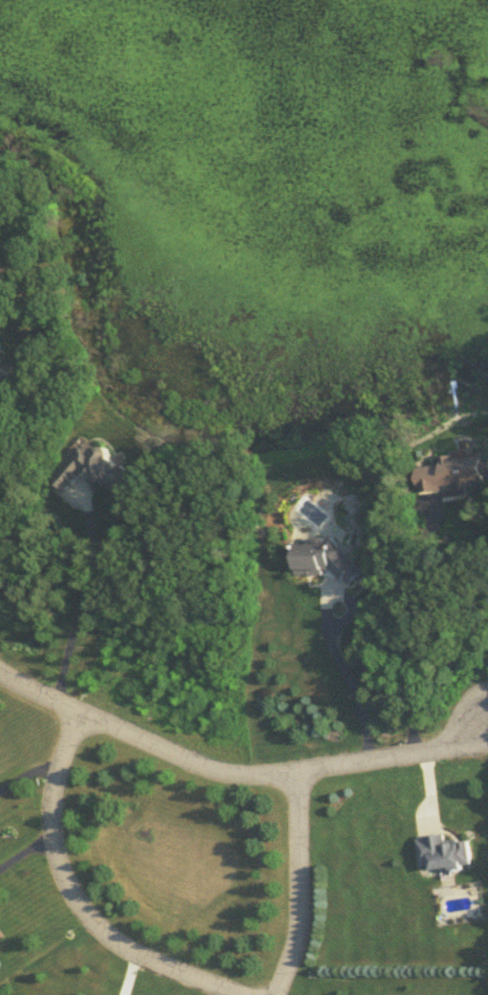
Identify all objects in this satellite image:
building: (1, 348)
building: (0, 360)
building: (4, 375)
building: (92, 467)
building: (452, 469)
building: (325, 557)
road: (81, 601)
road: (408, 630)
road: (350, 681)
road: (241, 776)
road: (25, 849)
building: (443, 849)
road: (300, 884)
road: (70, 895)
building: (0, 937)
building: (0, 939)

